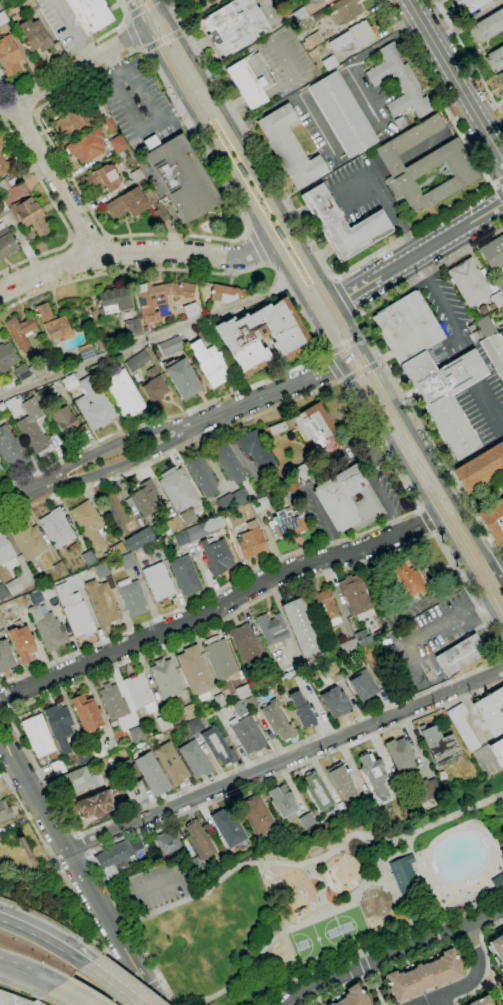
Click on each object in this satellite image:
building: (201, 0)
building: (324, 0)
road: (160, 4)
building: (468, 5)
road: (142, 8)
building: (0, 9)
traffic signals: (163, 9)
building: (346, 9)
building: (89, 14)
road: (140, 14)
building: (300, 15)
road: (127, 18)
road: (156, 20)
road: (468, 22)
road: (125, 23)
building: (235, 26)
building: (488, 26)
road: (73, 30)
traffic signals: (149, 30)
road: (184, 31)
road: (131, 35)
building: (36, 36)
road: (174, 36)
building: (351, 37)
road: (165, 41)
road: (155, 45)
road: (137, 48)
road: (146, 51)
road: (75, 53)
building: (9, 56)
road: (282, 56)
road: (469, 57)
building: (495, 59)
building: (329, 63)
road: (349, 63)
road: (115, 64)
road: (447, 67)
road: (74, 69)
building: (500, 77)
building: (251, 81)
building: (398, 82)
road: (191, 84)
road: (8, 88)
road: (168, 91)
road: (175, 110)
road: (34, 112)
building: (340, 113)
road: (17, 115)
building: (72, 118)
railway: (212, 118)
road: (1, 119)
road: (161, 119)
building: (400, 122)
building: (109, 124)
building: (117, 144)
building: (1, 145)
building: (86, 146)
building: (288, 146)
road: (495, 147)
building: (3, 165)
building: (424, 165)
building: (241, 170)
building: (149, 174)
road: (262, 174)
building: (180, 178)
road: (55, 179)
building: (103, 179)
road: (497, 180)
road: (497, 193)
road: (244, 199)
building: (126, 204)
road: (265, 205)
road: (261, 207)
road: (56, 211)
building: (30, 215)
building: (342, 226)
road: (248, 232)
building: (278, 233)
road: (452, 234)
road: (103, 236)
road: (70, 238)
road: (86, 238)
building: (6, 244)
road: (257, 247)
road: (411, 248)
road: (105, 252)
road: (132, 252)
building: (493, 253)
road: (365, 259)
road: (265, 263)
road: (109, 269)
road: (335, 278)
building: (469, 281)
road: (369, 282)
building: (500, 284)
building: (224, 293)
road: (345, 295)
building: (158, 297)
railway: (326, 298)
building: (112, 299)
building: (497, 299)
traffic signals: (339, 302)
railway: (317, 308)
building: (189, 309)
building: (162, 311)
road: (327, 314)
road: (356, 314)
building: (51, 323)
building: (485, 326)
building: (131, 327)
building: (144, 329)
building: (407, 329)
building: (18, 331)
building: (501, 333)
road: (362, 334)
building: (261, 335)
road: (316, 338)
road: (146, 339)
traffic signals: (360, 340)
road: (342, 344)
building: (169, 345)
building: (84, 351)
road: (324, 353)
road: (354, 353)
building: (5, 357)
building: (135, 361)
building: (207, 362)
road: (379, 362)
road: (331, 365)
road: (383, 365)
traffic signals: (345, 366)
building: (36, 368)
building: (21, 371)
road: (361, 371)
building: (181, 378)
road: (338, 379)
flagpole: (403, 381)
building: (68, 382)
road: (344, 382)
building: (6, 385)
building: (153, 387)
building: (49, 389)
road: (477, 389)
building: (40, 393)
building: (122, 393)
road: (264, 397)
building: (445, 399)
building: (92, 404)
building: (1, 406)
building: (12, 407)
building: (63, 420)
road: (410, 424)
building: (32, 428)
building: (310, 428)
road: (113, 443)
building: (11, 448)
building: (254, 449)
road: (207, 458)
building: (227, 461)
railway: (419, 462)
road: (122, 464)
building: (481, 468)
building: (299, 472)
building: (201, 475)
road: (314, 481)
building: (176, 489)
road: (26, 491)
road: (380, 494)
building: (146, 497)
building: (231, 498)
road: (424, 498)
building: (348, 501)
building: (259, 503)
road: (29, 506)
road: (418, 509)
building: (241, 511)
road: (419, 511)
building: (187, 516)
road: (426, 521)
building: (493, 521)
building: (285, 522)
building: (173, 524)
building: (87, 525)
building: (55, 527)
building: (196, 531)
road: (434, 533)
building: (137, 538)
building: (27, 540)
building: (250, 540)
road: (481, 546)
building: (72, 547)
building: (5, 549)
building: (115, 549)
road: (493, 551)
building: (215, 556)
building: (87, 558)
road: (498, 559)
building: (127, 560)
road: (498, 564)
building: (58, 568)
building: (101, 570)
building: (184, 575)
building: (410, 576)
building: (109, 581)
building: (157, 582)
building: (13, 586)
building: (2, 592)
building: (40, 594)
building: (354, 595)
building: (130, 596)
road: (476, 601)
building: (101, 602)
building: (320, 605)
building: (73, 607)
road: (218, 607)
road: (282, 619)
building: (300, 627)
building: (47, 628)
building: (270, 628)
building: (361, 636)
building: (21, 643)
building: (245, 645)
building: (347, 647)
building: (458, 654)
building: (5, 657)
building: (217, 657)
building: (193, 672)
building: (331, 672)
building: (164, 678)
building: (361, 686)
building: (241, 691)
building: (138, 692)
building: (218, 700)
building: (112, 701)
building: (251, 702)
building: (334, 702)
building: (239, 707)
road: (1, 710)
building: (300, 710)
building: (188, 711)
building: (492, 711)
road: (1, 713)
road: (5, 713)
building: (86, 713)
road: (6, 714)
building: (276, 720)
building: (163, 722)
building: (193, 725)
building: (58, 726)
building: (462, 727)
building: (135, 734)
building: (246, 734)
building: (36, 735)
road: (6, 739)
building: (438, 744)
building: (216, 746)
building: (95, 748)
road: (5, 749)
building: (497, 751)
building: (82, 756)
building: (401, 756)
building: (194, 758)
road: (285, 760)
building: (170, 763)
building: (57, 767)
building: (129, 769)
building: (151, 773)
building: (374, 773)
building: (442, 775)
building: (80, 778)
road: (258, 782)
building: (342, 782)
building: (427, 790)
building: (317, 791)
building: (135, 792)
building: (0, 797)
building: (401, 798)
building: (283, 802)
building: (92, 805)
building: (5, 811)
building: (257, 815)
building: (307, 820)
building: (228, 827)
building: (282, 832)
road: (76, 835)
building: (199, 840)
building: (167, 842)
road: (81, 845)
road: (87, 854)
building: (117, 855)
road: (314, 859)
building: (404, 873)
road: (84, 880)
road: (67, 881)
building: (498, 882)
road: (321, 886)
parking lot: (159, 887)
road: (141, 895)
park: (313, 896)
road: (489, 925)
building: (502, 925)
road: (297, 926)
park: (351, 927)
road: (471, 938)
road: (43, 939)
park: (317, 940)
road: (379, 942)
building: (497, 950)
road: (359, 954)
road: (394, 954)
road: (152, 964)
road: (363, 965)
road: (382, 968)
road: (31, 969)
road: (484, 975)
building: (424, 976)
road: (161, 981)
road: (472, 981)
road: (111, 984)
road: (23, 987)
road: (150, 987)
road: (375, 989)
road: (139, 992)
road: (80, 993)
building: (353, 997)
building: (14, 999)
road: (128, 999)
road: (444, 1000)
road: (51, 1001)
building: (481, 1001)
road: (447, 1002)

